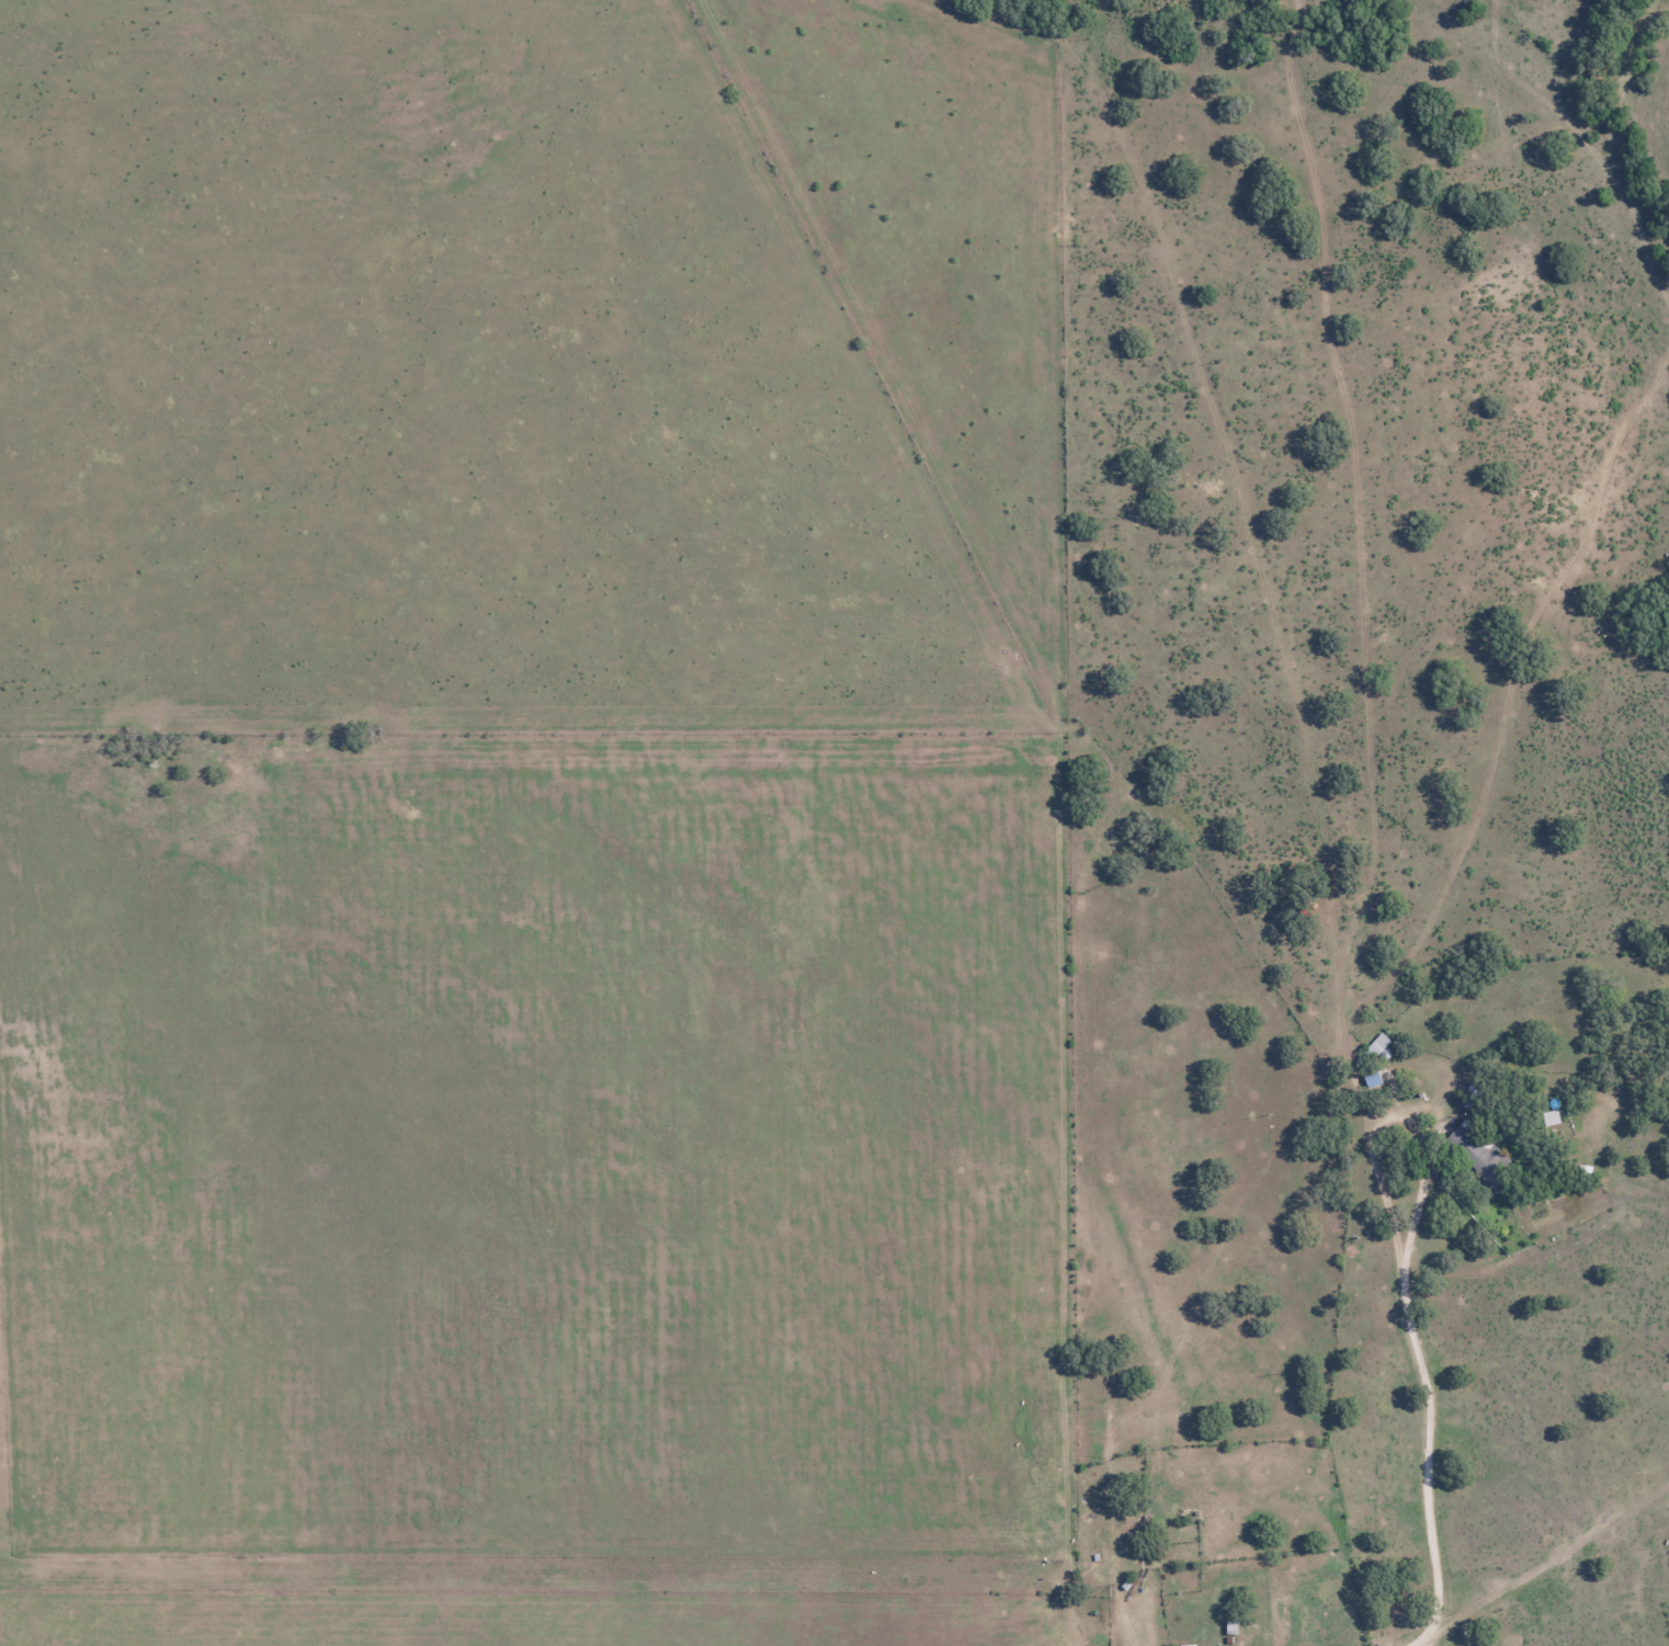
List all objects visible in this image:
building: (1376, 1045)
road: (1392, 1119)
building: (1477, 1156)
road: (1424, 1468)

